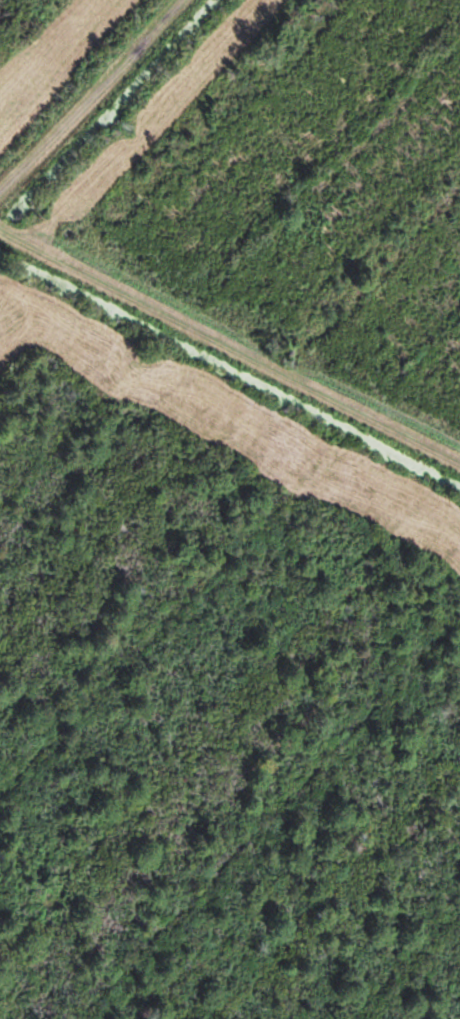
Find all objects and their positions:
road: (90, 95)
road: (230, 345)

